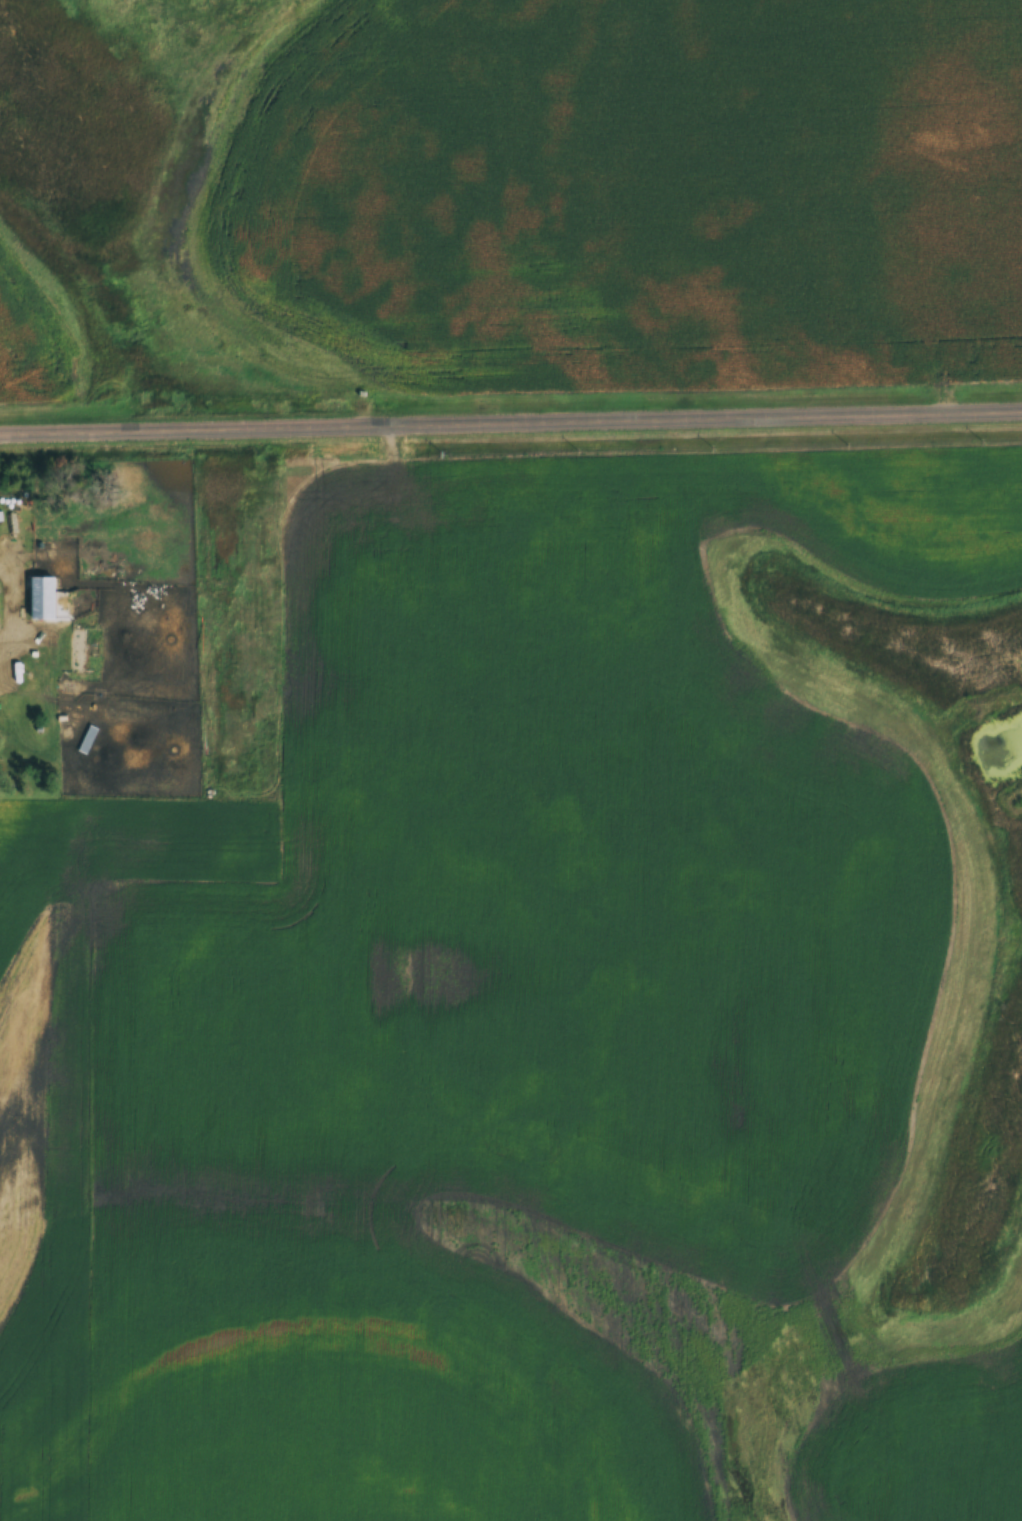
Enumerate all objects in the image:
road: (511, 419)
road: (11, 613)

